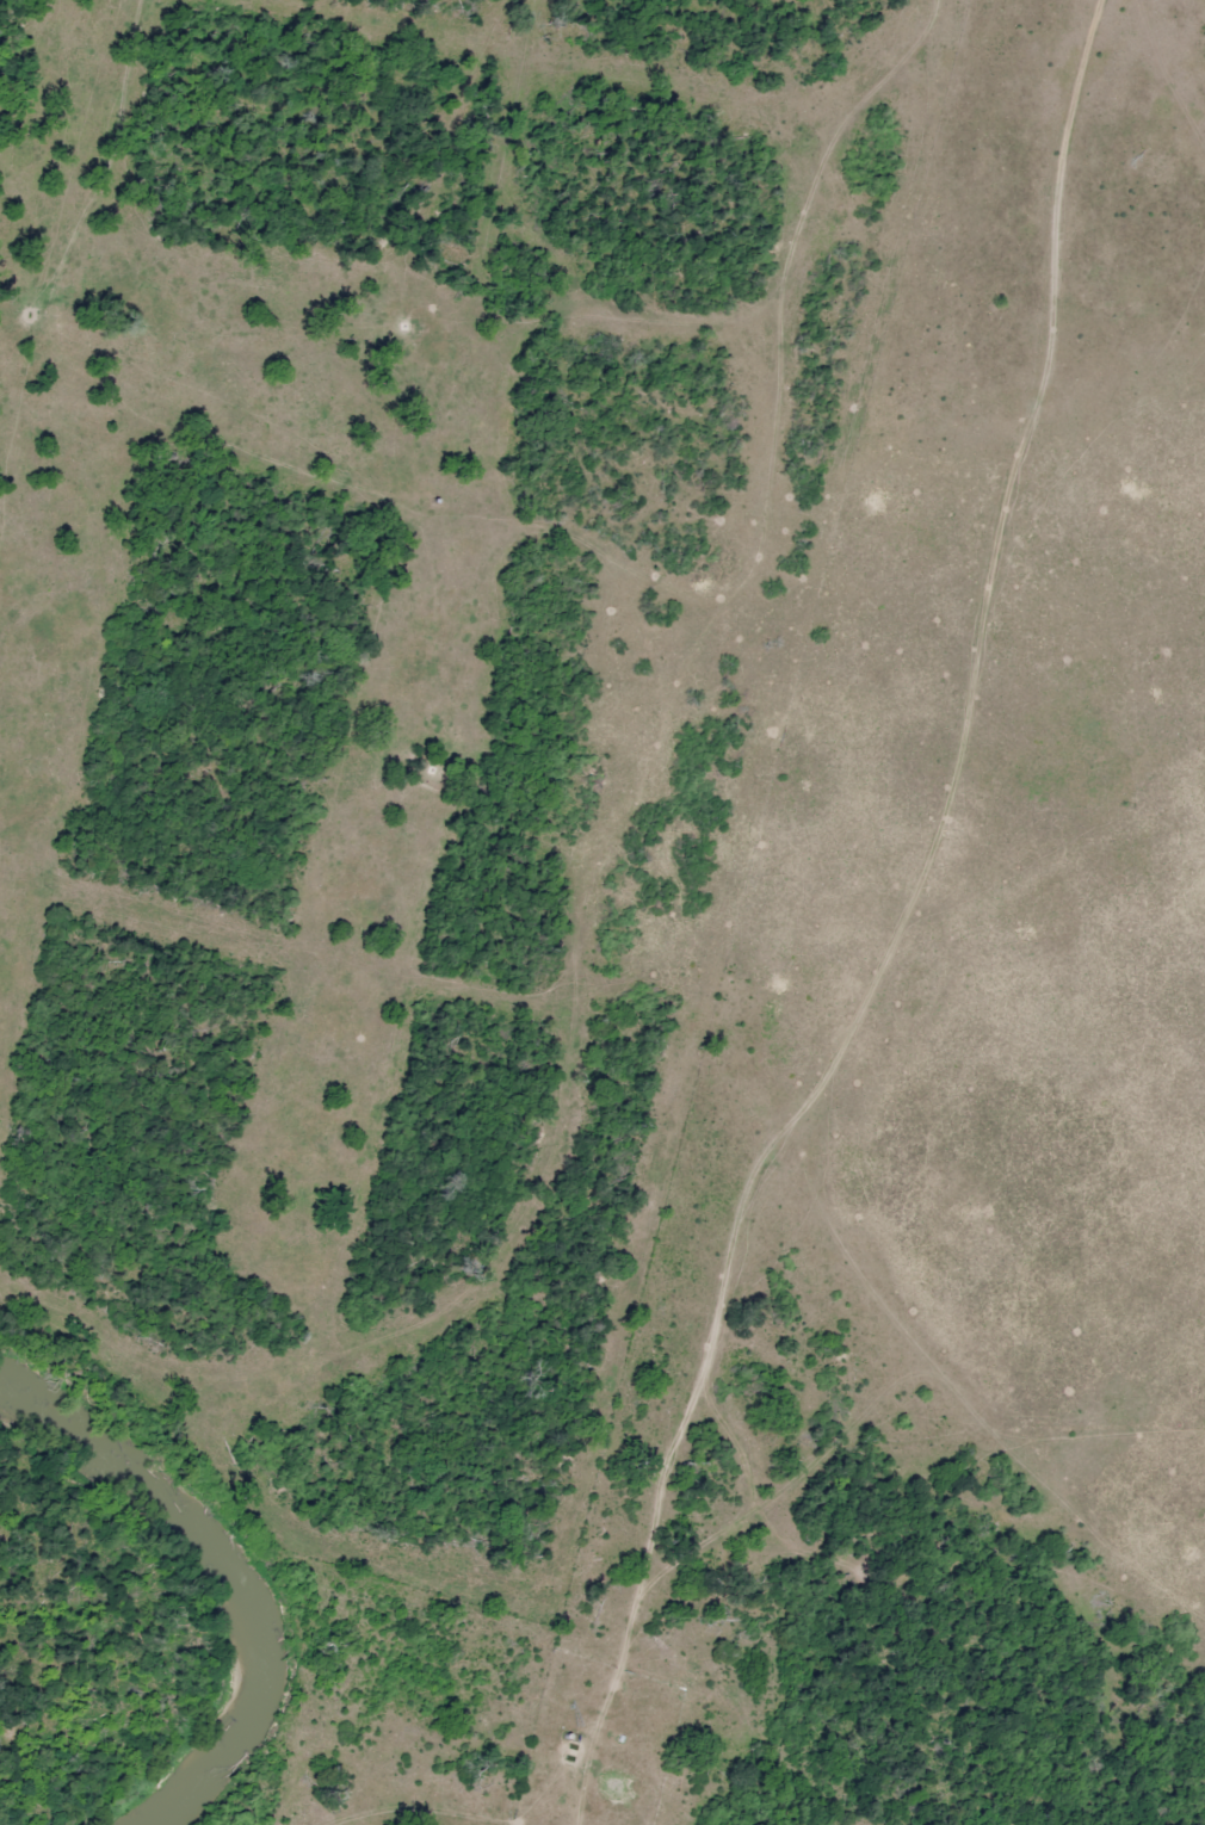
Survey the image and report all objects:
road: (878, 940)
river: (227, 1572)

